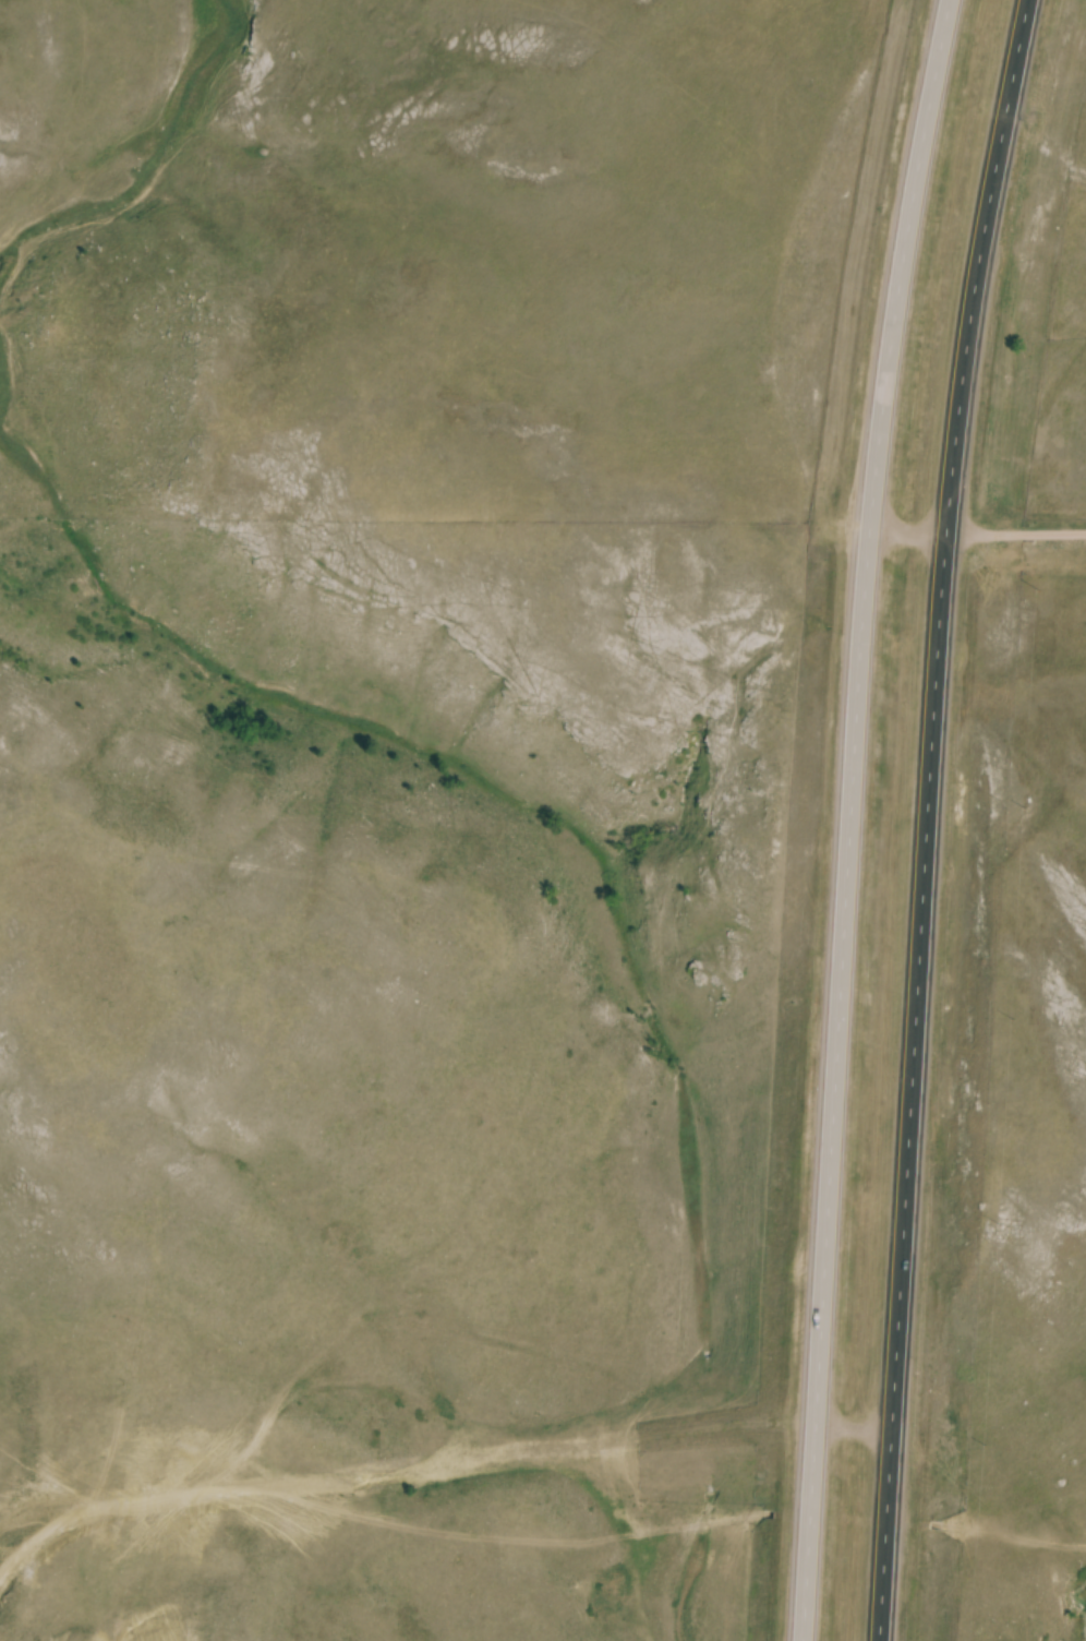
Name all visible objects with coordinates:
road: (849, 817)
road: (927, 817)

